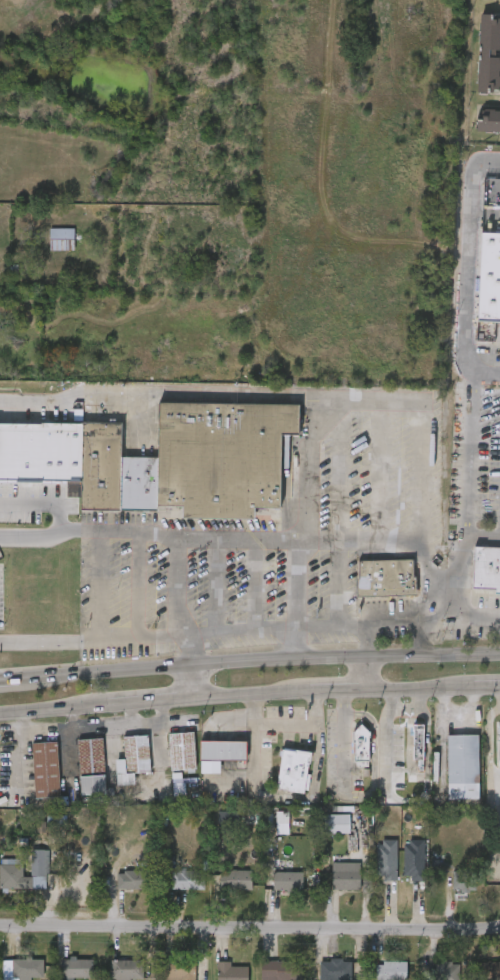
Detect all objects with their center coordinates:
building: (489, 53)
building: (488, 119)
road: (308, 193)
building: (62, 239)
road: (456, 268)
building: (489, 278)
road: (157, 392)
building: (40, 452)
building: (221, 458)
road: (380, 470)
building: (114, 473)
road: (312, 496)
road: (466, 498)
road: (43, 502)
road: (338, 512)
road: (50, 535)
road: (367, 540)
building: (486, 568)
building: (385, 578)
road: (295, 582)
road: (442, 582)
road: (256, 583)
road: (138, 584)
road: (216, 585)
road: (176, 587)
building: (371, 591)
road: (394, 623)
road: (348, 624)
road: (216, 631)
road: (188, 652)
road: (259, 664)
road: (363, 674)
road: (10, 683)
road: (190, 684)
road: (411, 686)
road: (480, 686)
road: (328, 689)
road: (242, 694)
road: (141, 702)
road: (401, 708)
road: (45, 709)
building: (418, 741)
building: (222, 749)
building: (180, 750)
building: (403, 755)
building: (492, 757)
building: (132, 758)
building: (346, 760)
building: (167, 764)
building: (207, 765)
building: (90, 766)
building: (462, 766)
building: (45, 769)
building: (76, 769)
building: (292, 770)
building: (119, 772)
building: (448, 780)
building: (31, 783)
building: (279, 784)
road: (490, 785)
road: (397, 792)
building: (163, 797)
building: (78, 798)
building: (336, 823)
road: (496, 827)
building: (322, 837)
building: (11, 870)
building: (345, 876)
building: (133, 878)
building: (187, 879)
building: (235, 879)
building: (288, 880)
building: (463, 881)
building: (17, 884)
building: (331, 889)
building: (368, 889)
building: (115, 893)
building: (173, 893)
building: (221, 893)
building: (273, 894)
building: (449, 894)
road: (250, 920)
building: (27, 967)
building: (76, 967)
building: (126, 969)
building: (175, 969)
building: (334, 969)
building: (281, 970)
building: (390, 970)
building: (230, 971)
building: (445, 971)
building: (489, 971)
building: (62, 975)
building: (14, 976)
building: (211, 977)
building: (432, 977)
building: (477, 977)

